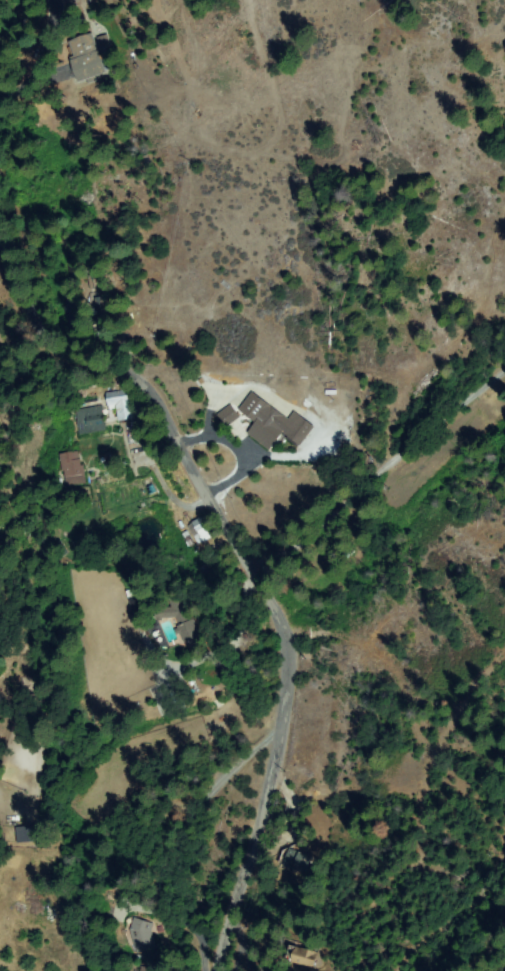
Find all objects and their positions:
building: (84, 57)
building: (121, 405)
building: (229, 416)
building: (91, 420)
building: (273, 423)
building: (71, 467)
road: (379, 472)
road: (200, 487)
building: (203, 529)
building: (137, 600)
building: (180, 622)
building: (226, 661)
building: (30, 834)
building: (295, 859)
building: (142, 936)
building: (302, 957)
building: (146, 970)

